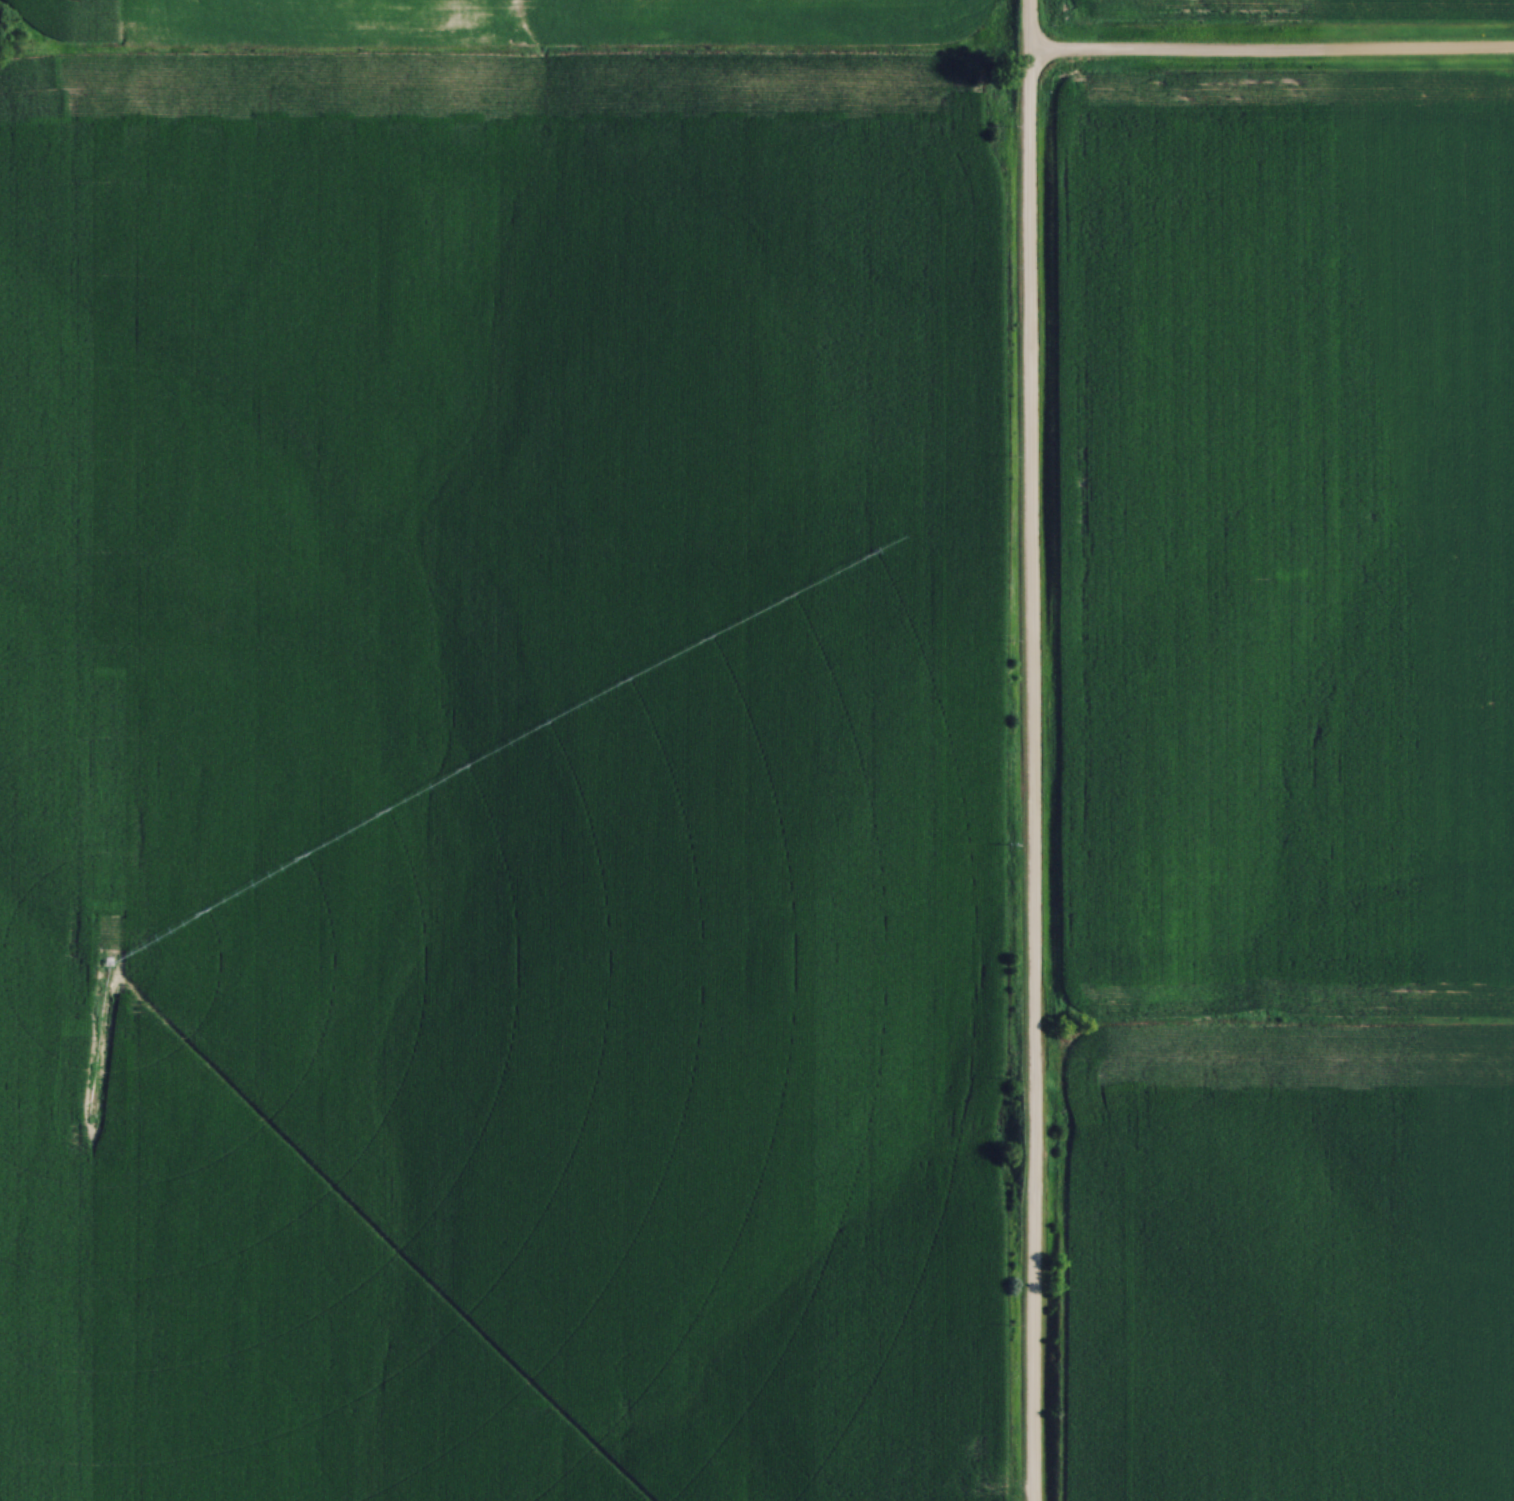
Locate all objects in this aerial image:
road: (1271, 57)
road: (1030, 750)
crop: (1288, 1261)

